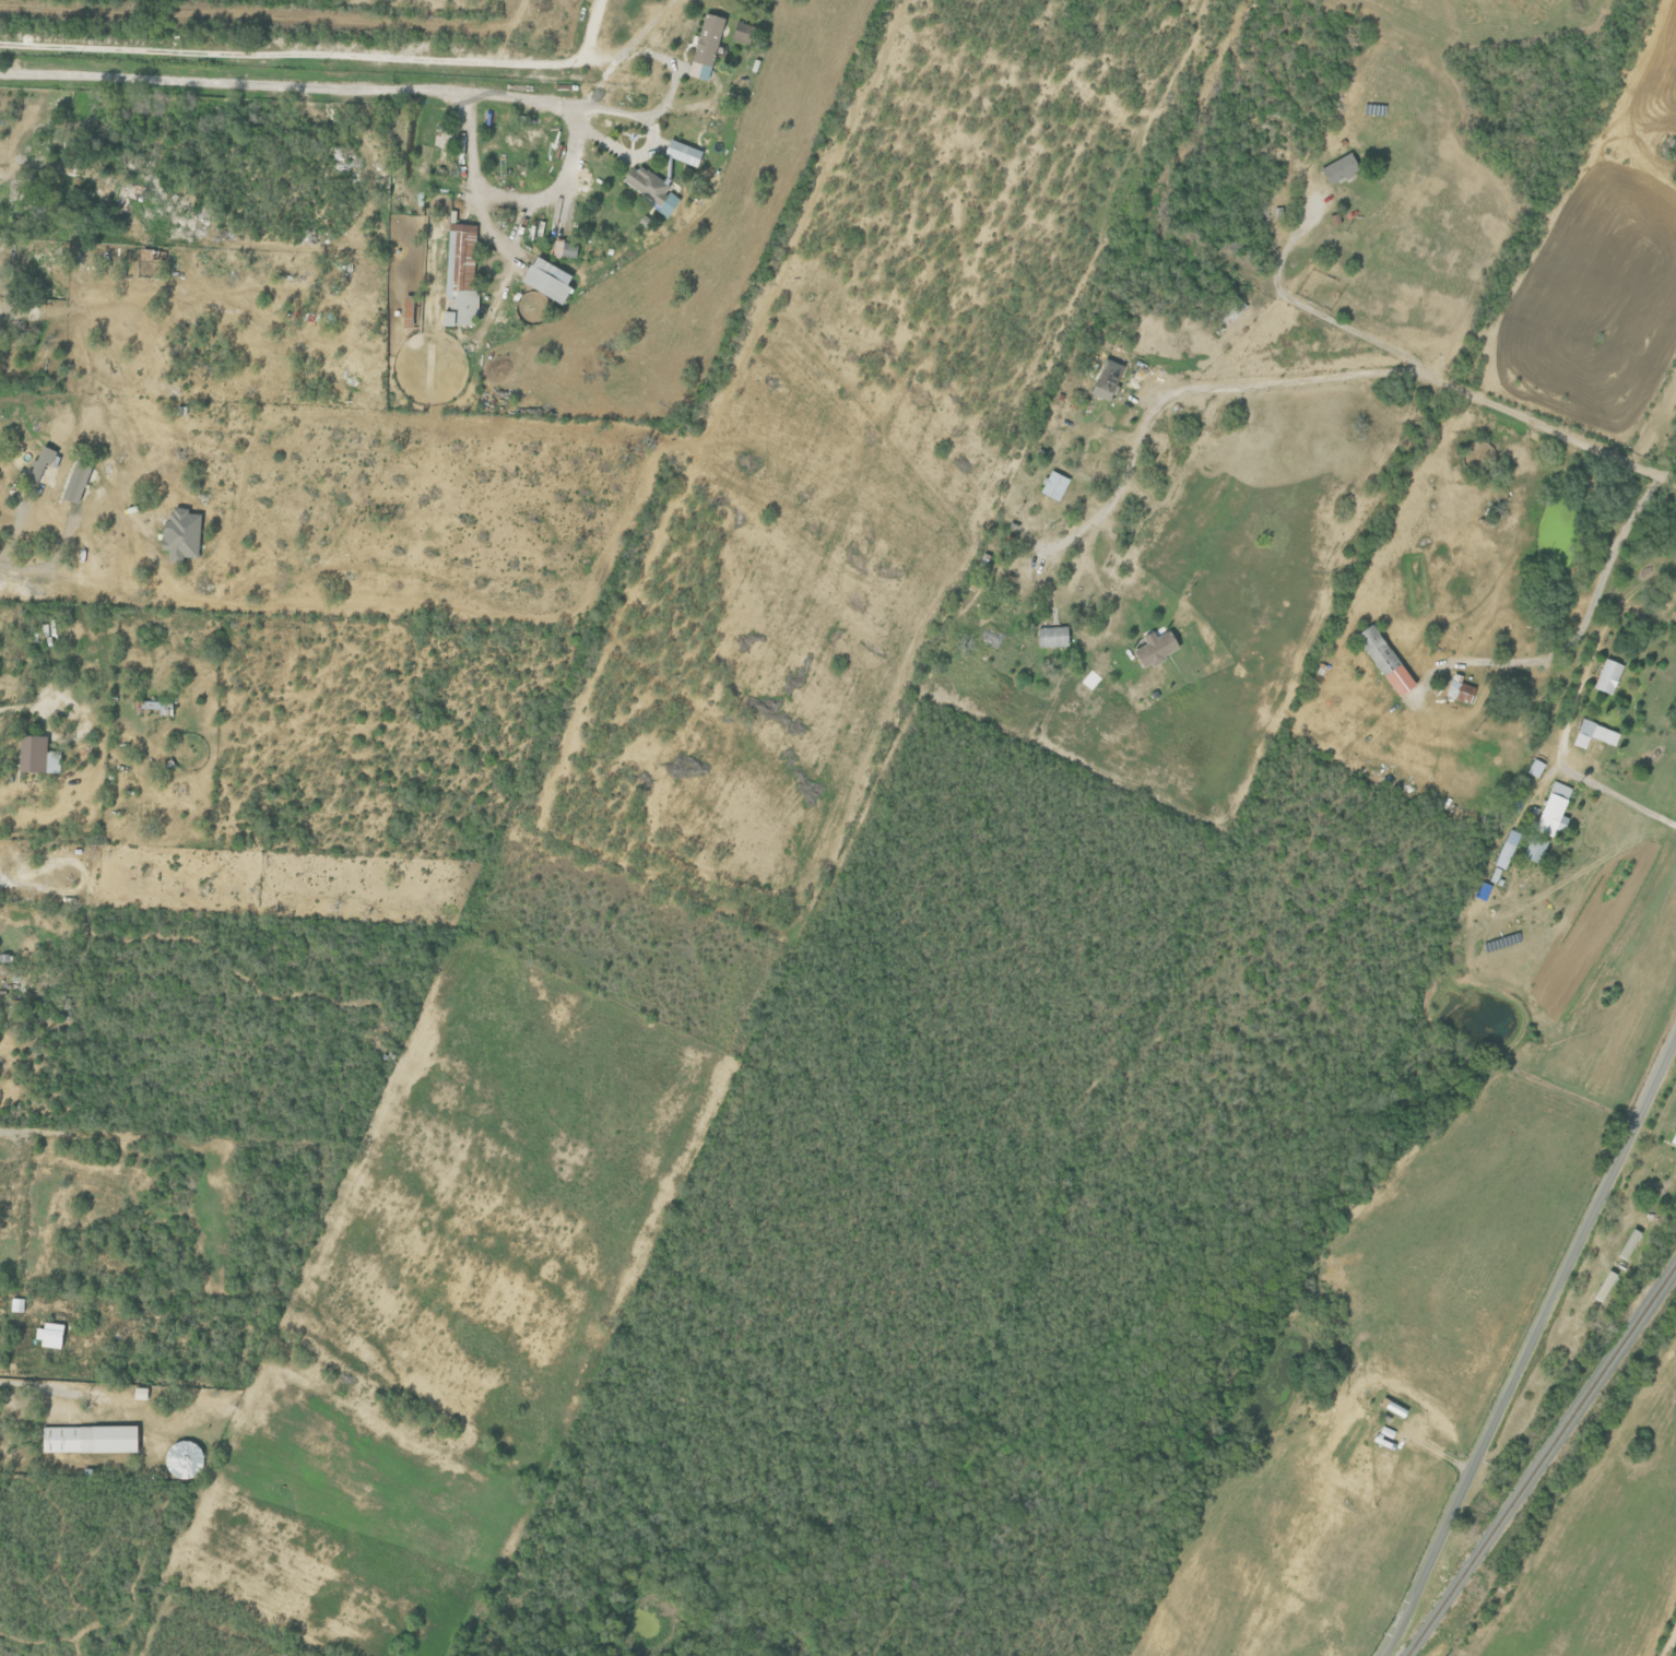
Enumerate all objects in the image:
building: (741, 31)
road: (636, 37)
building: (704, 47)
road: (296, 54)
road: (594, 62)
road: (229, 81)
road: (670, 99)
building: (681, 153)
building: (1338, 168)
road: (557, 184)
building: (648, 188)
building: (563, 249)
building: (459, 276)
building: (544, 280)
road: (1313, 310)
road: (1325, 380)
building: (1100, 389)
building: (39, 463)
building: (73, 482)
building: (1053, 485)
building: (178, 534)
road: (36, 571)
building: (1051, 637)
road: (1578, 639)
building: (1153, 648)
building: (1382, 660)
building: (1607, 676)
building: (1456, 689)
road: (23, 706)
building: (1593, 734)
road: (1562, 736)
building: (35, 755)
building: (1534, 768)
building: (1553, 809)
building: (1506, 849)
building: (1534, 849)
building: (1673, 1137)
building: (1675, 1151)
building: (1627, 1244)
building: (1603, 1286)
building: (15, 1305)
building: (48, 1336)
road: (1529, 1348)
building: (139, 1393)
building: (88, 1439)
building: (181, 1459)
railway: (1541, 1460)
road: (1672, 1646)

